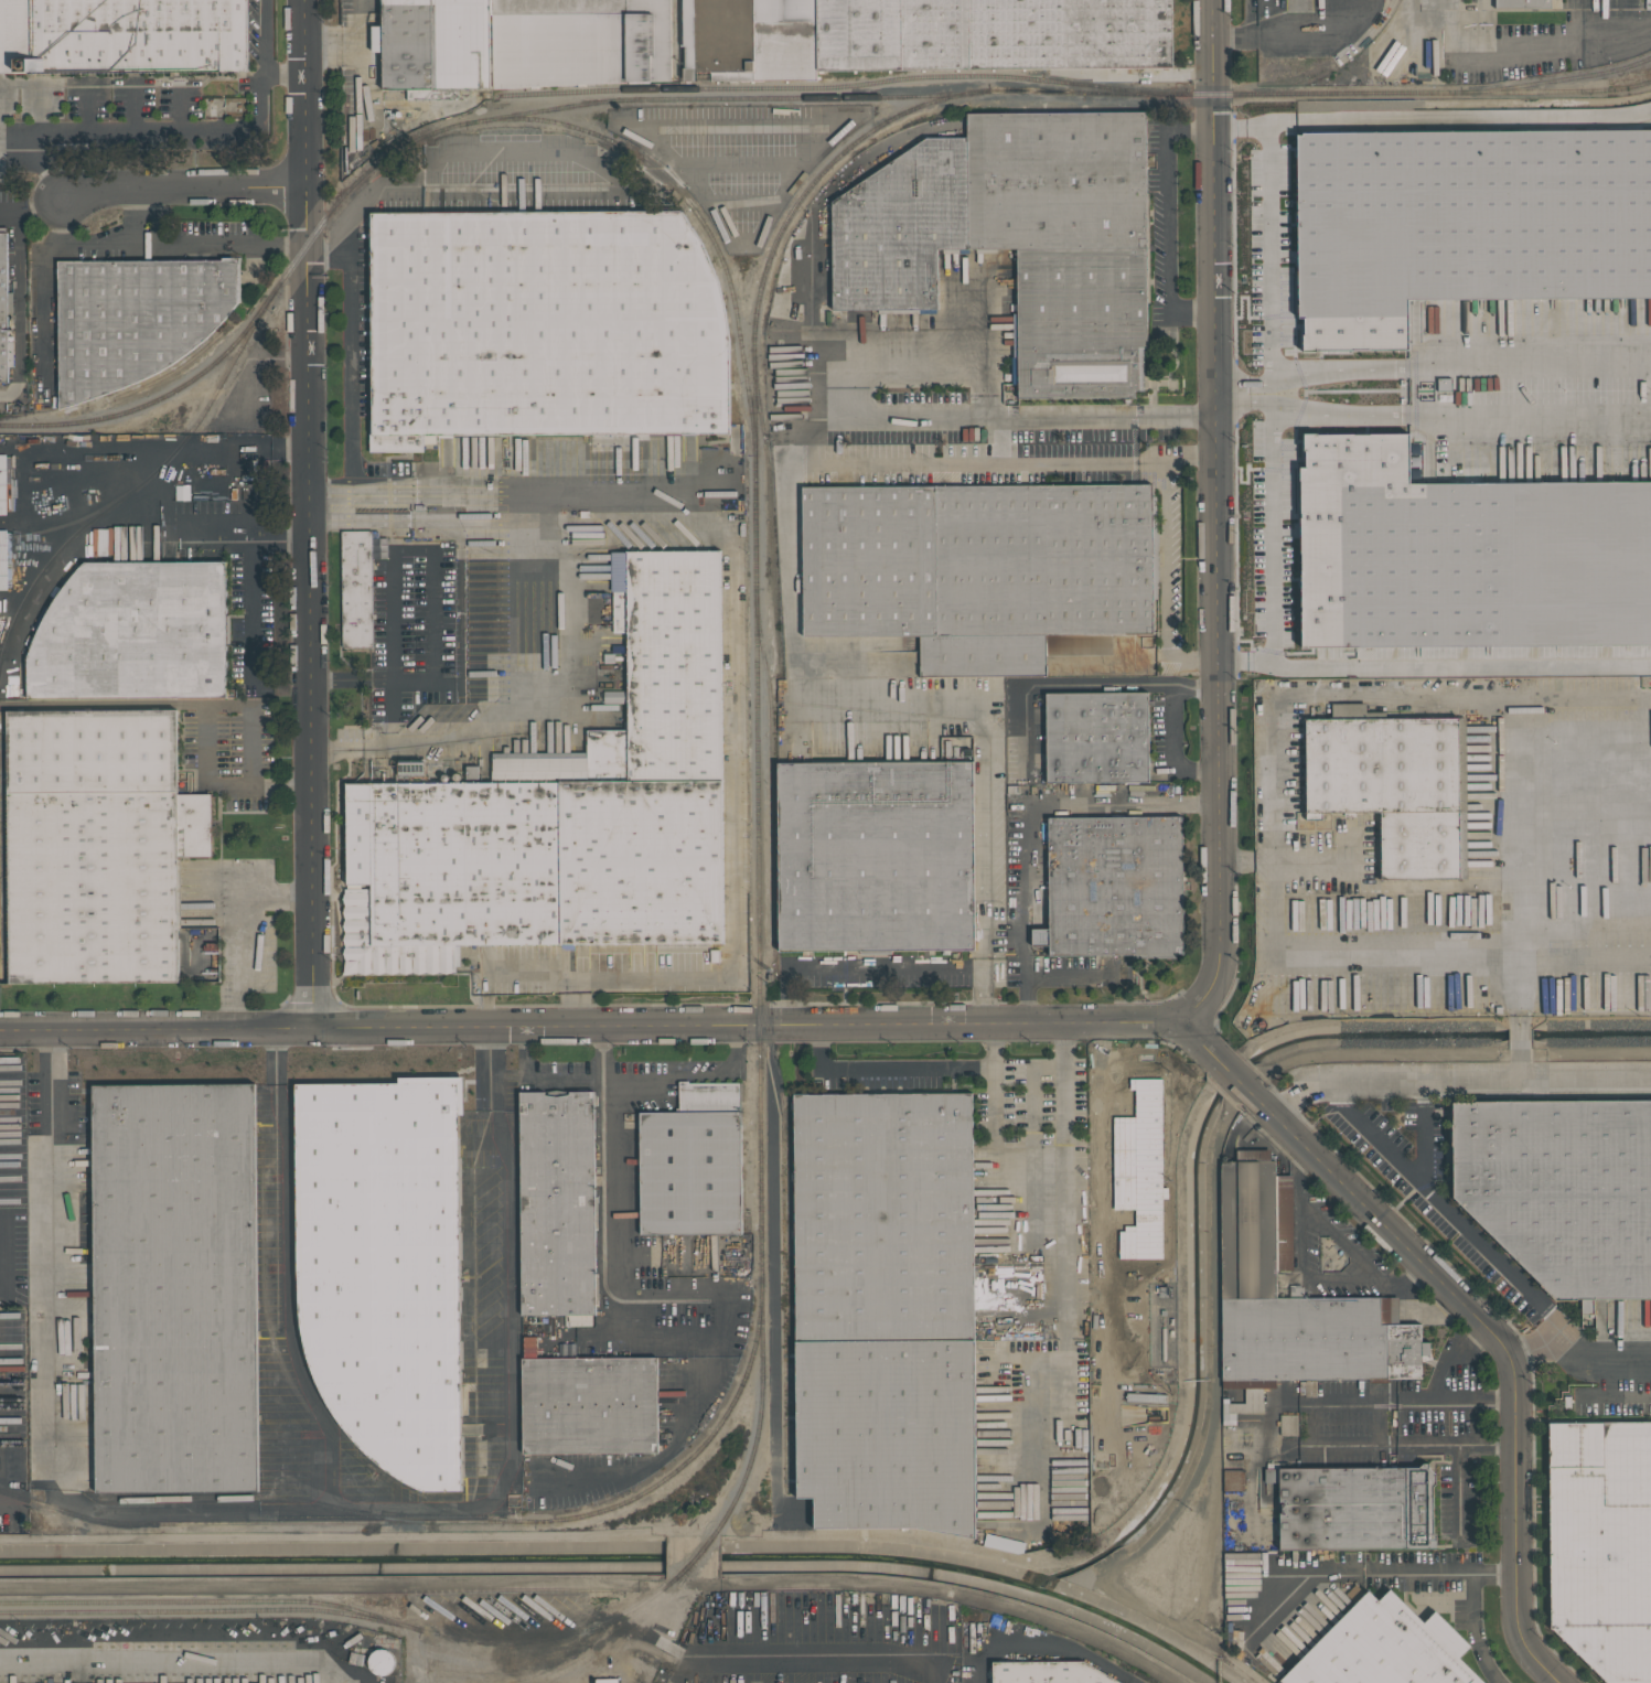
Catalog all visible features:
building: (1522, 3)
road: (346, 32)
building: (993, 34)
building: (122, 35)
building: (687, 37)
road: (265, 39)
building: (579, 42)
building: (780, 43)
building: (437, 46)
railway: (1328, 66)
road: (287, 77)
railway: (1556, 81)
railway: (841, 86)
railway: (726, 98)
railway: (1539, 105)
building: (684, 124)
road: (141, 129)
railway: (582, 129)
building: (1311, 142)
building: (1451, 158)
building: (1564, 160)
building: (1349, 165)
road: (535, 168)
road: (185, 193)
road: (19, 206)
road: (1232, 215)
road: (152, 218)
road: (1167, 222)
building: (1017, 238)
road: (179, 243)
road: (1252, 250)
building: (1460, 268)
road: (50, 289)
building: (3, 309)
building: (135, 320)
building: (543, 326)
road: (904, 358)
road: (1429, 368)
road: (351, 383)
railway: (151, 404)
road: (1461, 415)
railway: (754, 425)
building: (733, 438)
road: (1189, 458)
road: (976, 462)
building: (2, 485)
railway: (132, 491)
building: (182, 492)
road: (610, 501)
road: (307, 515)
road: (1216, 518)
road: (1357, 519)
building: (1582, 519)
railway: (69, 524)
road: (1523, 547)
building: (4, 560)
parking lot: (1355, 562)
road: (791, 569)
building: (977, 569)
road: (1337, 573)
road: (1379, 573)
road: (1164, 586)
road: (251, 587)
building: (356, 589)
road: (433, 592)
road: (1434, 626)
building: (133, 633)
road: (513, 639)
road: (1054, 687)
road: (1196, 687)
road: (239, 705)
building: (1096, 737)
road: (1173, 750)
railway: (773, 768)
building: (1394, 785)
road: (1273, 794)
road: (1034, 804)
building: (565, 810)
building: (1598, 821)
building: (980, 843)
building: (100, 848)
building: (876, 856)
building: (1114, 886)
road: (1516, 891)
road: (236, 929)
road: (854, 966)
road: (1052, 978)
road: (980, 996)
road: (589, 1028)
road: (1516, 1044)
road: (993, 1047)
road: (689, 1075)
road: (539, 1080)
road: (1482, 1081)
road: (1294, 1098)
road: (993, 1107)
road: (1102, 1107)
road: (1424, 1145)
railway: (790, 1158)
building: (693, 1162)
road: (1299, 1168)
building: (1139, 1171)
building: (1561, 1190)
building: (557, 1204)
road: (1446, 1209)
road: (1339, 1242)
building: (384, 1267)
road: (1306, 1276)
road: (1412, 1280)
building: (175, 1288)
building: (1291, 1301)
road: (1468, 1307)
building: (885, 1310)
road: (609, 1316)
railway: (269, 1322)
road: (1464, 1347)
road: (1540, 1349)
road: (502, 1360)
road: (1599, 1361)
railway: (314, 1392)
road: (1464, 1396)
building: (589, 1405)
building: (1288, 1425)
road: (677, 1439)
road: (1394, 1445)
railway: (700, 1451)
building: (1233, 1480)
building: (1268, 1493)
railway: (260, 1499)
road: (32, 1501)
building: (1353, 1507)
road: (187, 1511)
railway: (264, 1523)
building: (1600, 1544)
railway: (698, 1558)
railway: (693, 1567)
road: (598, 1585)
railway: (207, 1602)
road: (1471, 1610)
railway: (206, 1611)
road: (840, 1614)
railway: (656, 1630)
railway: (550, 1640)
building: (357, 1643)
railway: (597, 1648)
road: (1049, 1648)
building: (1384, 1648)
building: (380, 1661)
road: (167, 1664)
building: (1048, 1671)
railway: (530, 1682)

